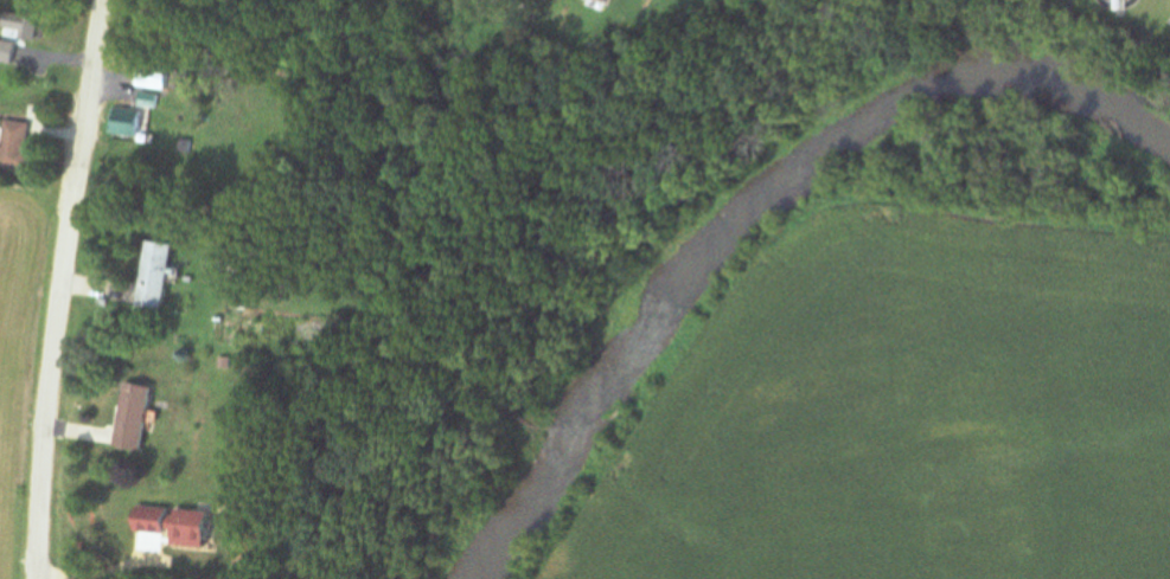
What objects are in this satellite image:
building: (596, 0)
building: (1123, 5)
wastewater plant: (1126, 18)
building: (19, 24)
building: (7, 52)
road: (55, 57)
building: (149, 77)
building: (145, 98)
building: (124, 121)
building: (11, 146)
building: (181, 146)
river: (744, 194)
building: (232, 259)
building: (148, 276)
road: (64, 289)
building: (129, 418)

